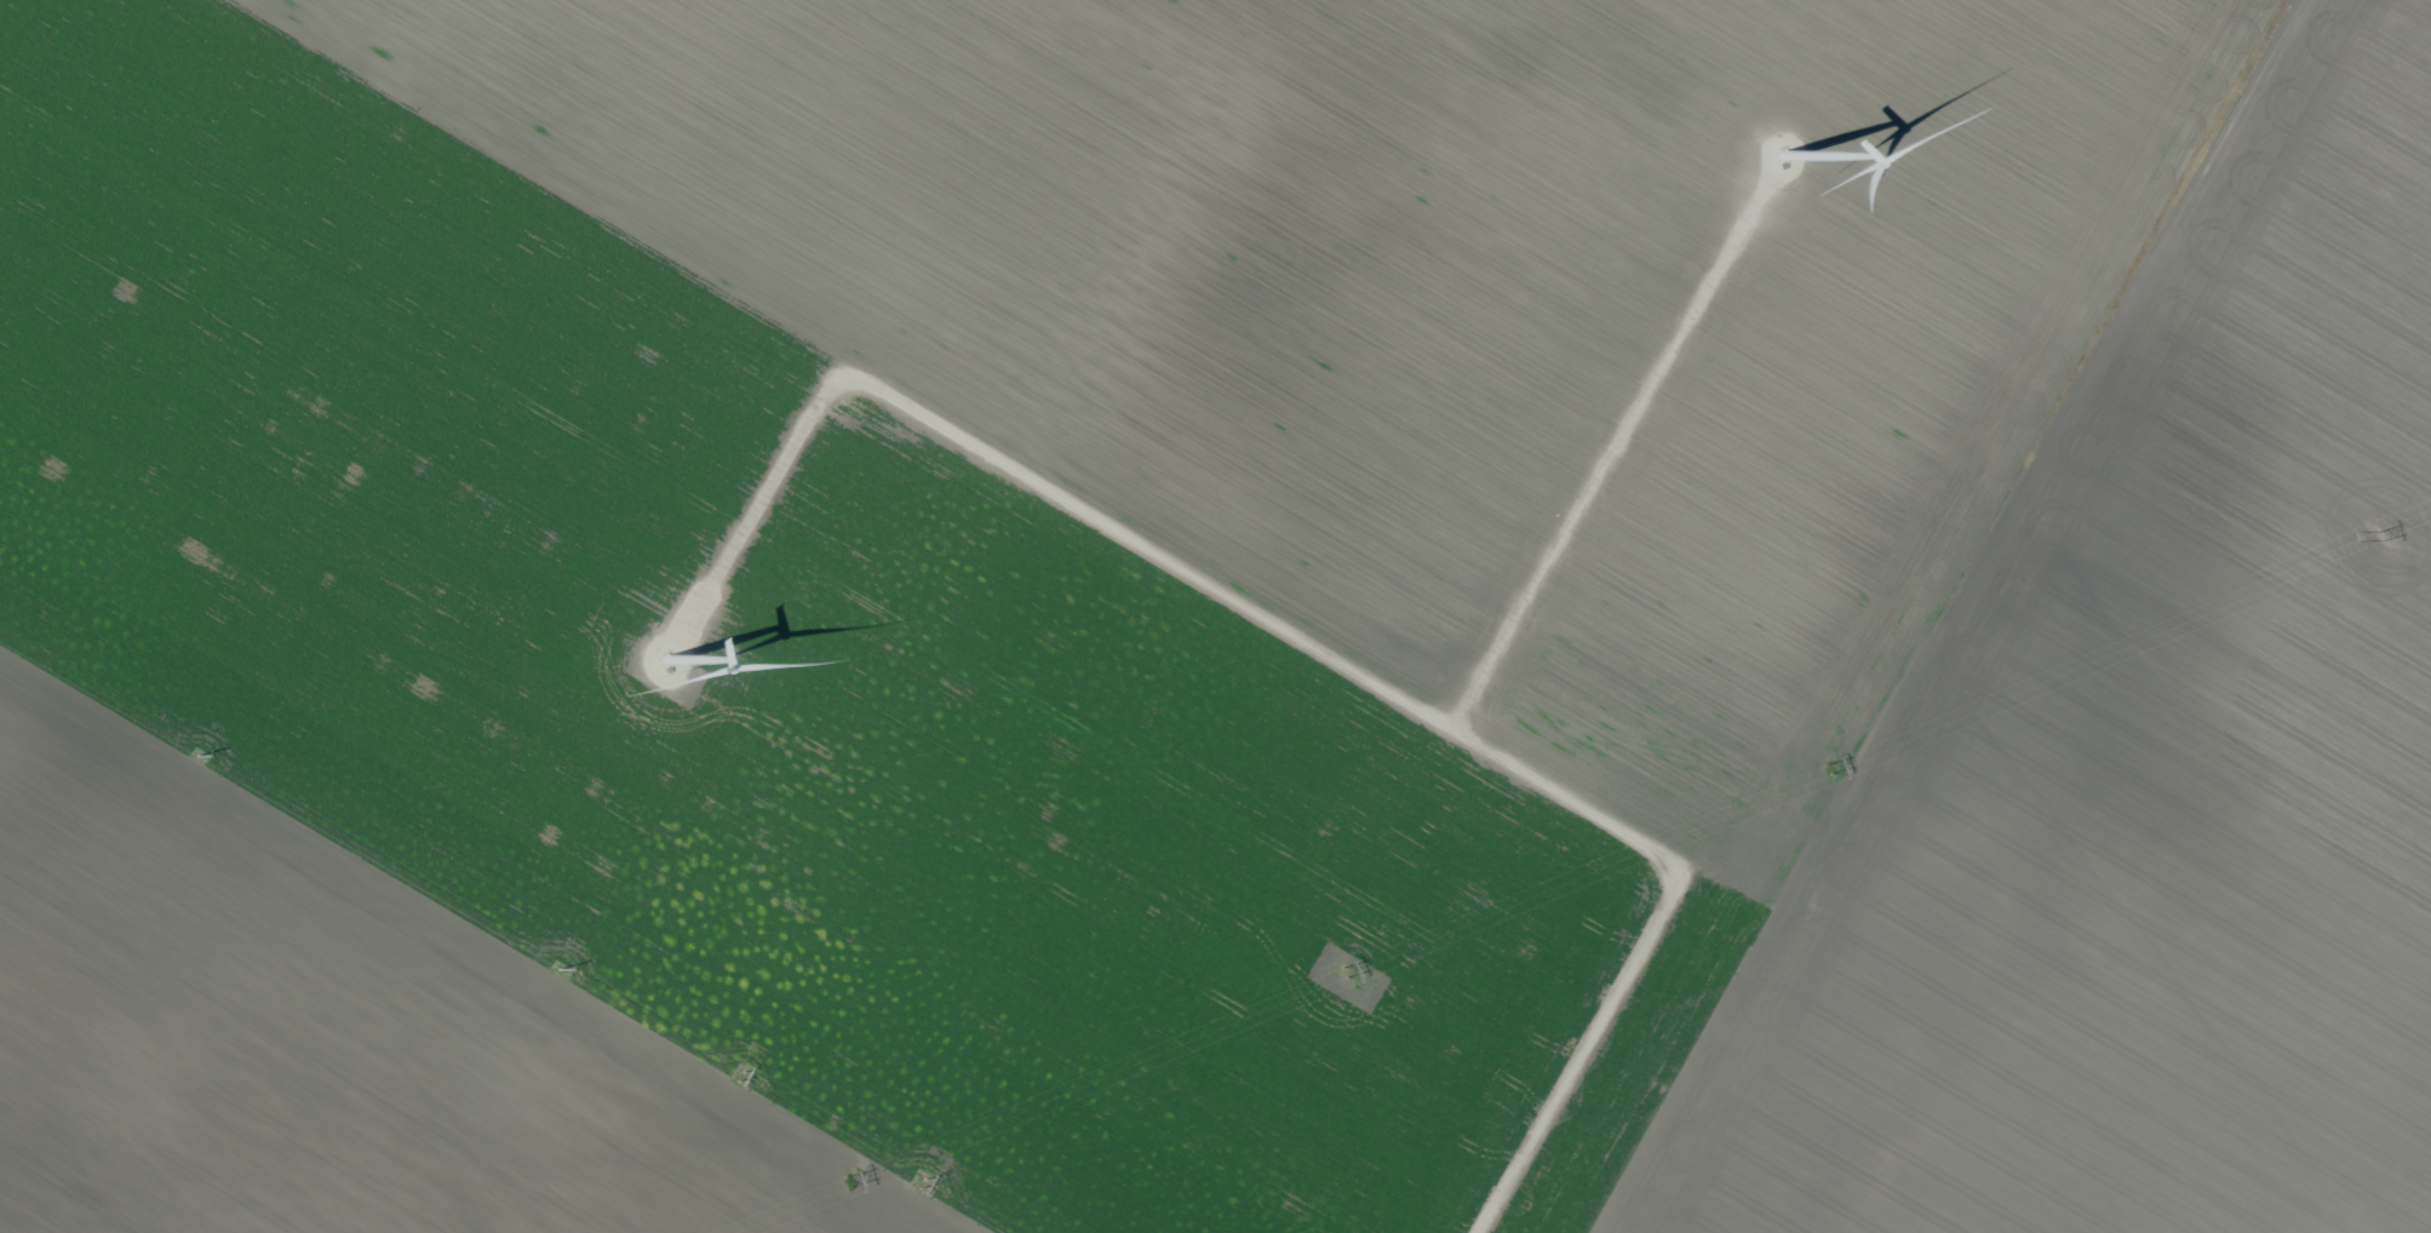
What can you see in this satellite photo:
wind turbine: (1784, 157)
road: (1611, 460)
power tower: (2380, 534)
road: (1315, 654)
wind turbine: (667, 659)
power tower: (199, 755)
power tower: (1827, 768)
power tower: (571, 967)
power tower: (1343, 969)
power tower: (745, 1071)
power tower: (848, 1181)
power tower: (925, 1182)

